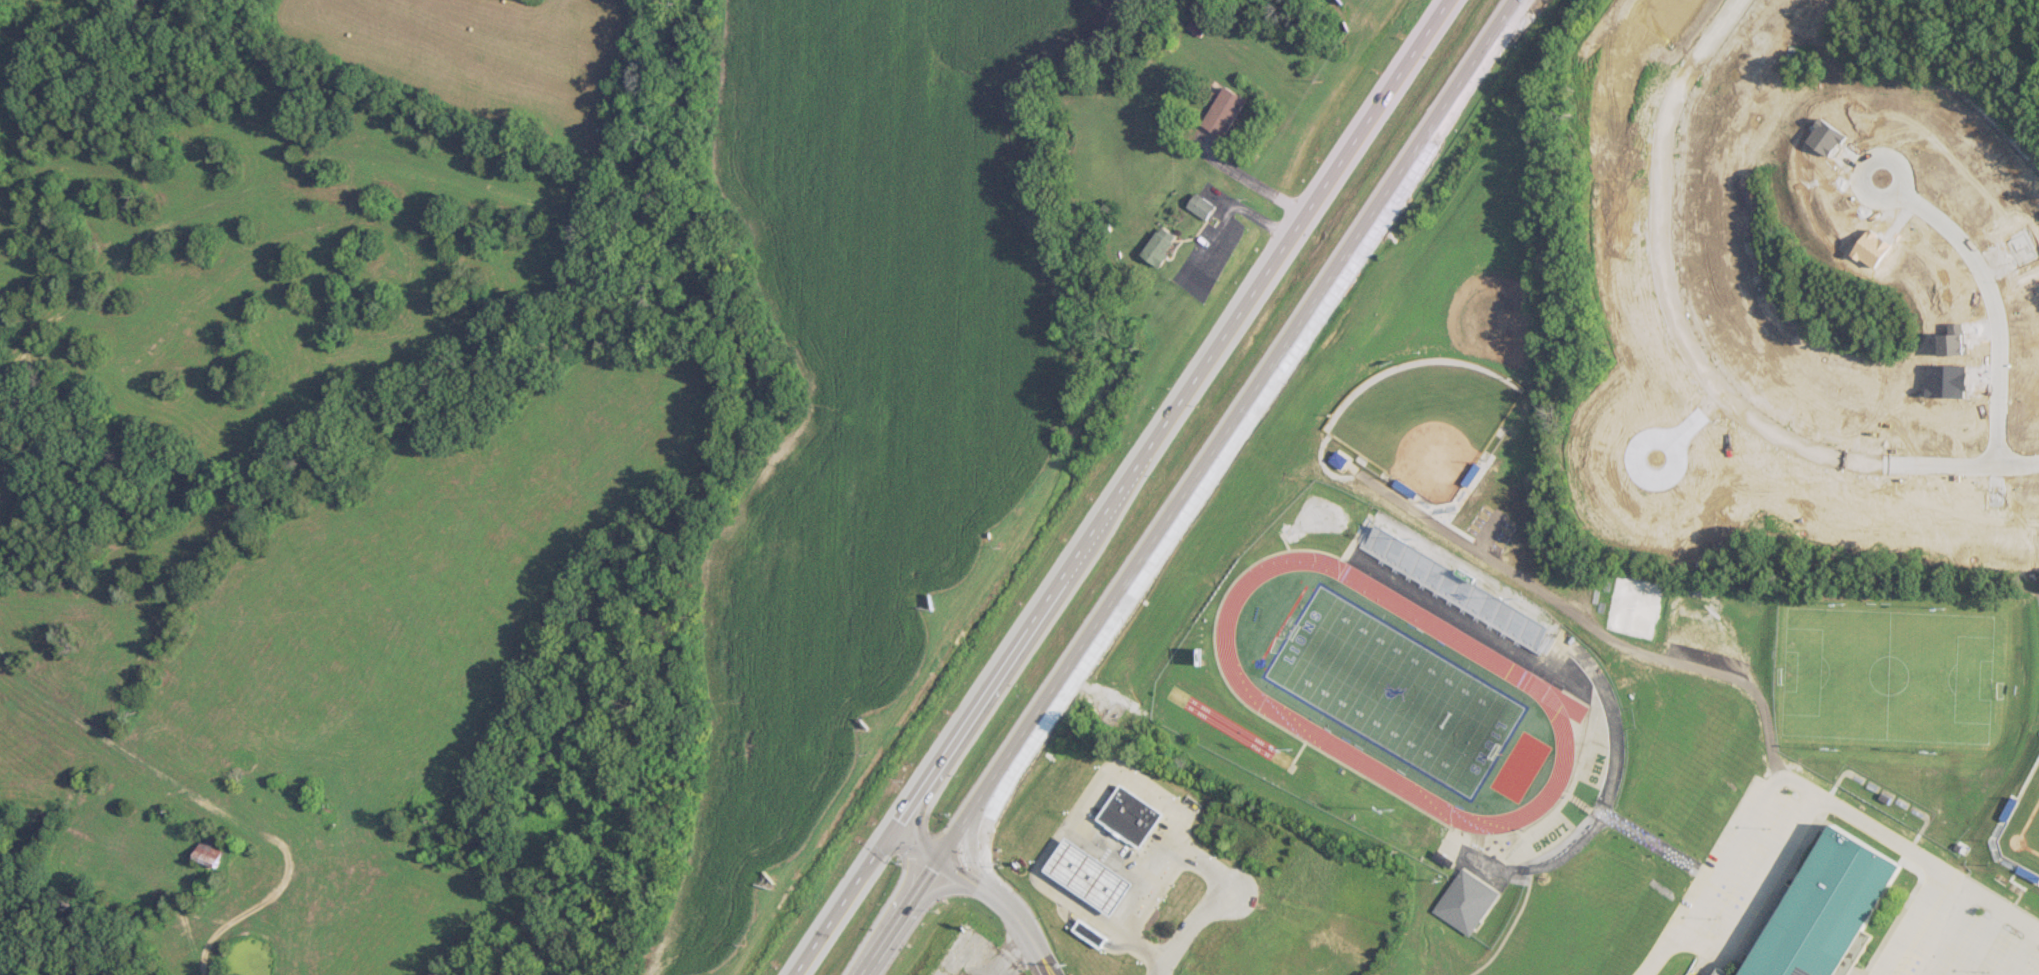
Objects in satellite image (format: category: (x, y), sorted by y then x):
building: (1226, 110)
road: (1250, 178)
building: (1203, 205)
building: (1160, 246)
road: (1986, 301)
road: (1691, 357)
road: (1686, 426)
road: (1226, 429)
road: (1120, 487)
building: (1453, 585)
road: (1808, 786)
road: (1079, 807)
road: (921, 808)
building: (326, 814)
building: (1134, 815)
traffic signals: (899, 819)
traffic signals: (920, 821)
road: (902, 833)
road: (915, 842)
road: (929, 851)
road: (974, 851)
building: (210, 852)
road: (1112, 852)
road: (1190, 857)
traffic signals: (933, 868)
traffic signals: (957, 870)
road: (958, 871)
road: (912, 874)
building: (1093, 875)
road: (983, 887)
road: (272, 892)
road: (940, 892)
building: (1464, 900)
building: (1821, 906)
road: (900, 916)
road: (1912, 923)
road: (1027, 927)
building: (1093, 932)
road: (1160, 968)
building: (1720, 972)

